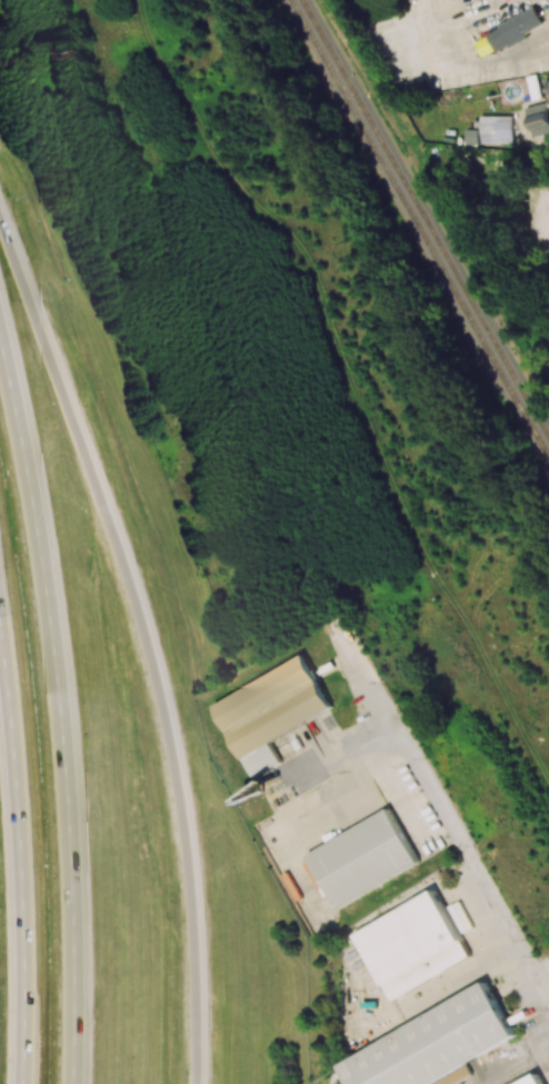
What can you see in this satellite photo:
building: (508, 33)
building: (548, 87)
building: (537, 118)
building: (492, 129)
building: (486, 157)
railway: (423, 221)
railway: (417, 231)
road: (149, 643)
road: (59, 705)
building: (269, 713)
road: (447, 817)
building: (363, 858)
road: (19, 875)
building: (456, 918)
building: (412, 945)
building: (435, 1042)
building: (458, 1077)
building: (535, 1080)

